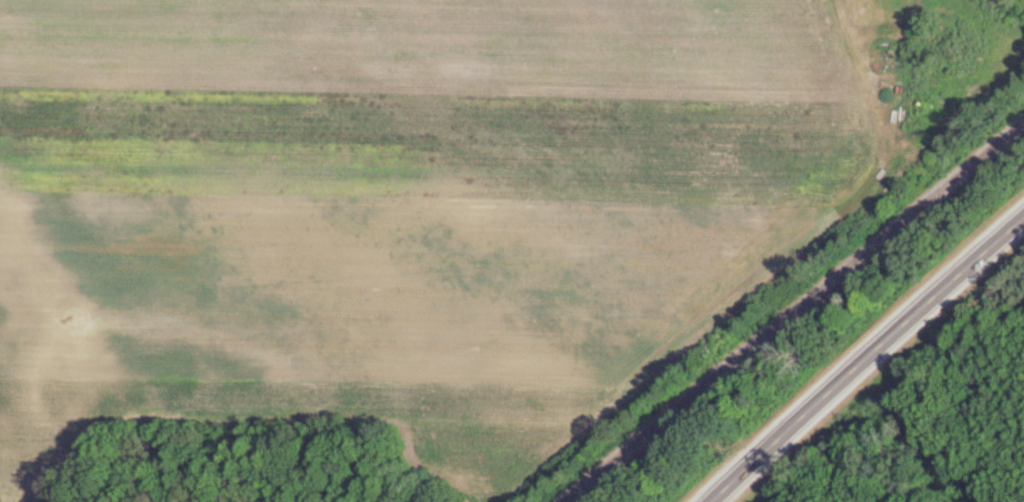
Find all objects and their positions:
railway: (796, 315)
road: (869, 361)

